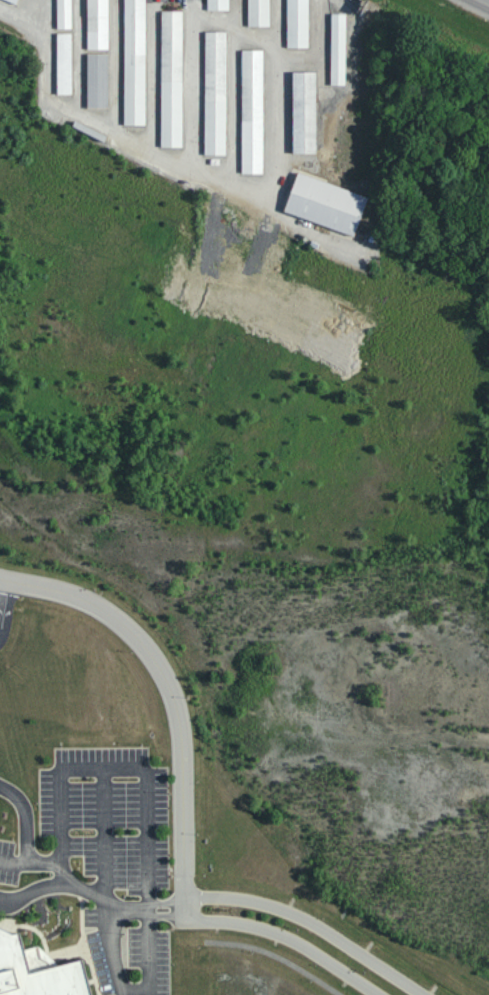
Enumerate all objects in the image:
building: (16, 0)
road: (486, 1)
building: (218, 5)
building: (258, 13)
building: (64, 14)
road: (24, 16)
building: (297, 24)
building: (97, 25)
building: (338, 50)
building: (134, 62)
building: (64, 64)
building: (171, 79)
building: (97, 81)
building: (215, 93)
building: (252, 112)
building: (304, 113)
building: (326, 205)
road: (2, 591)
road: (174, 697)
road: (147, 801)
road: (25, 818)
road: (103, 833)
parking lot: (116, 859)
parking lot: (8, 861)
road: (30, 863)
road: (40, 889)
road: (148, 910)
road: (129, 911)
road: (311, 923)
road: (110, 924)
road: (287, 938)
road: (276, 956)
building: (37, 971)

